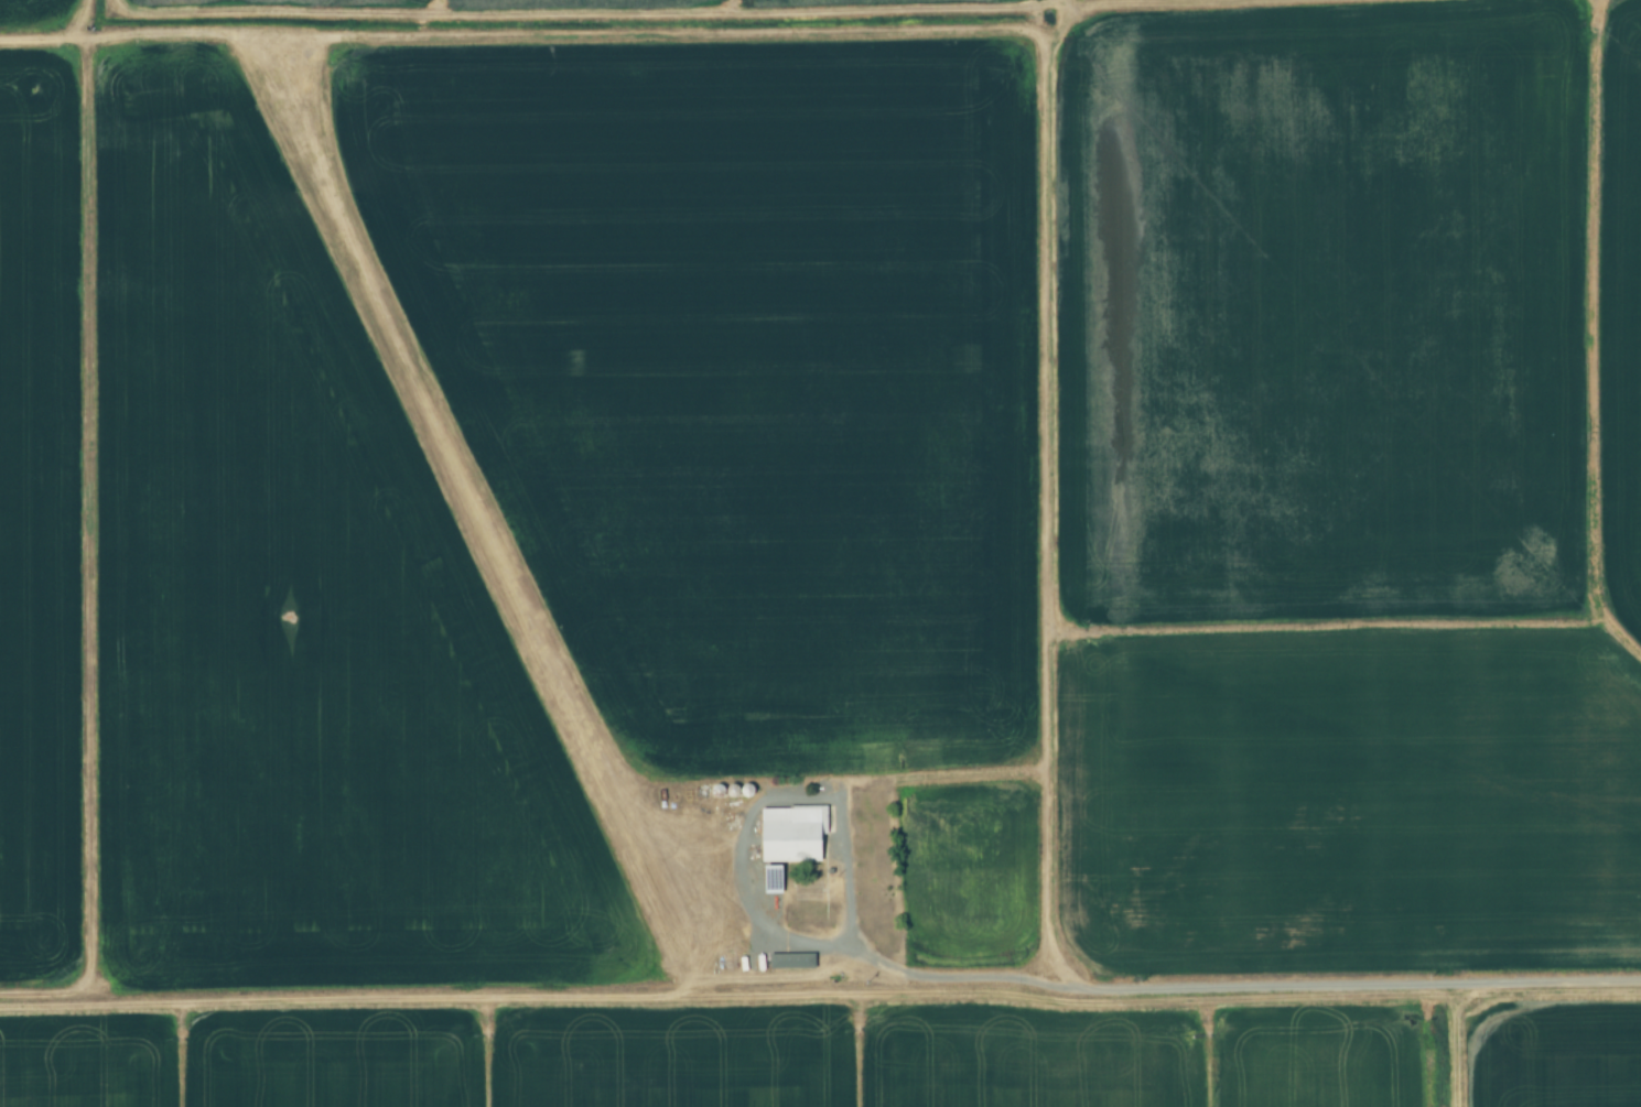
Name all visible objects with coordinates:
airport runway: (474, 501)
building: (788, 833)
road: (1241, 987)

